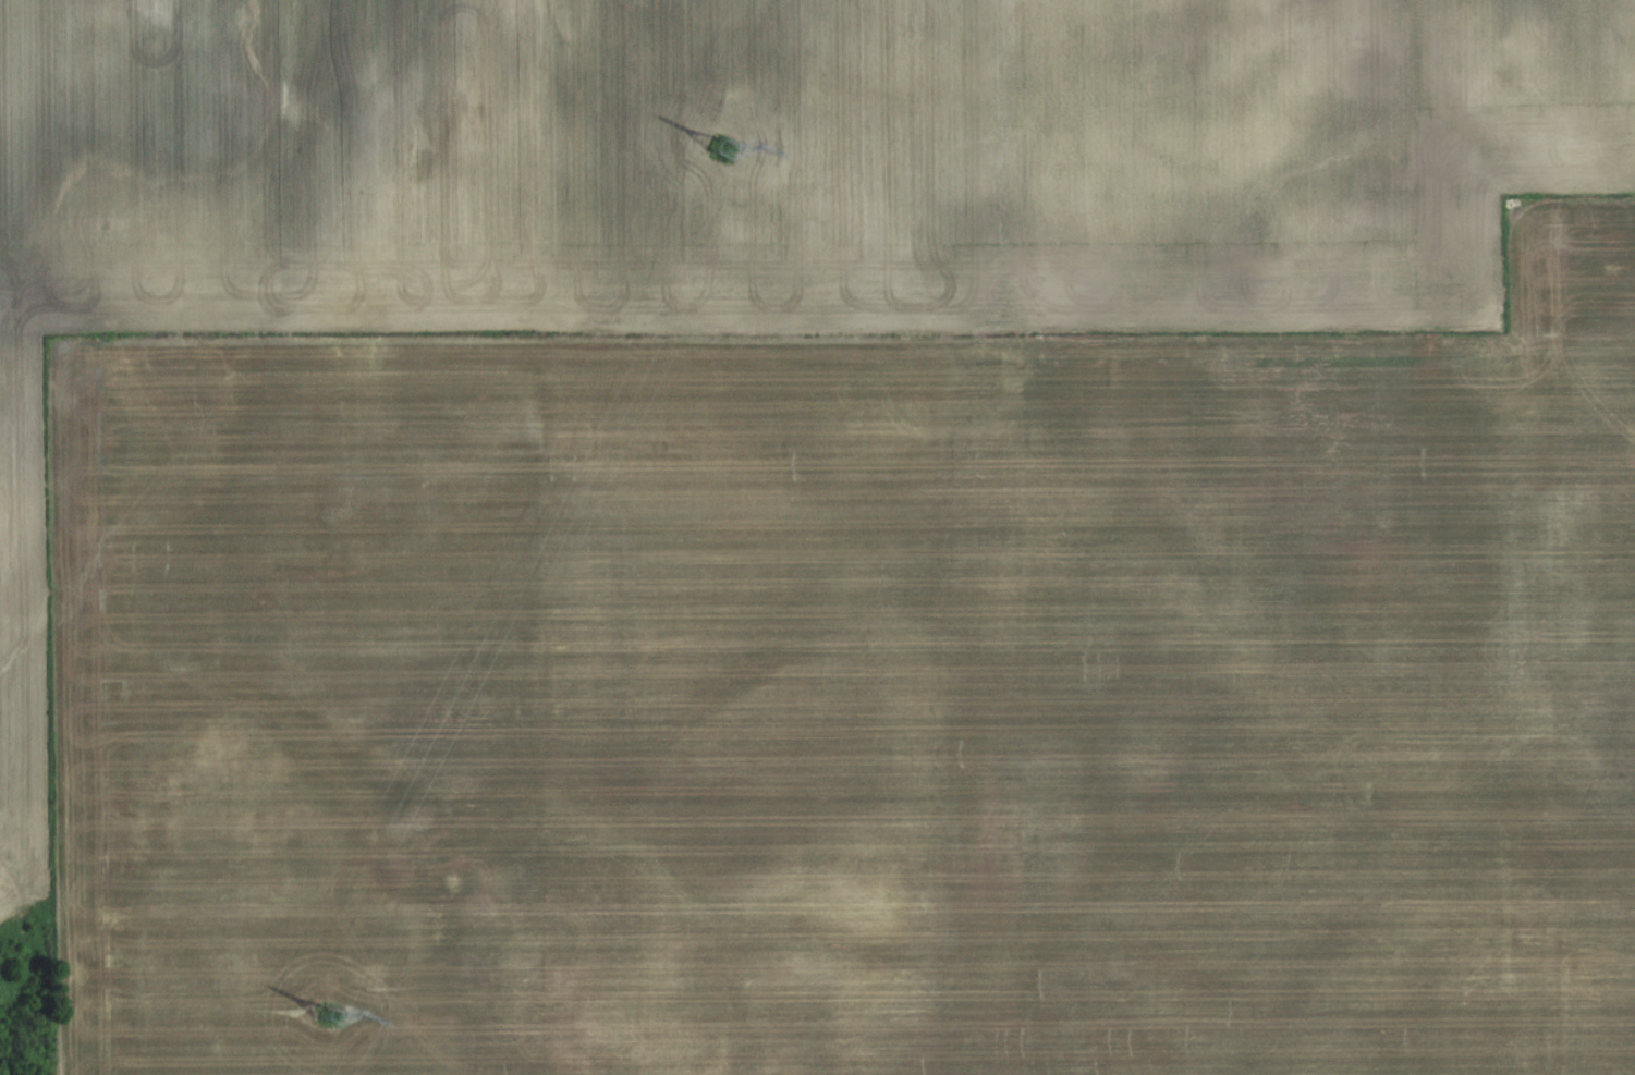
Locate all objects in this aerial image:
power tower: (723, 147)
power tower: (327, 1015)

